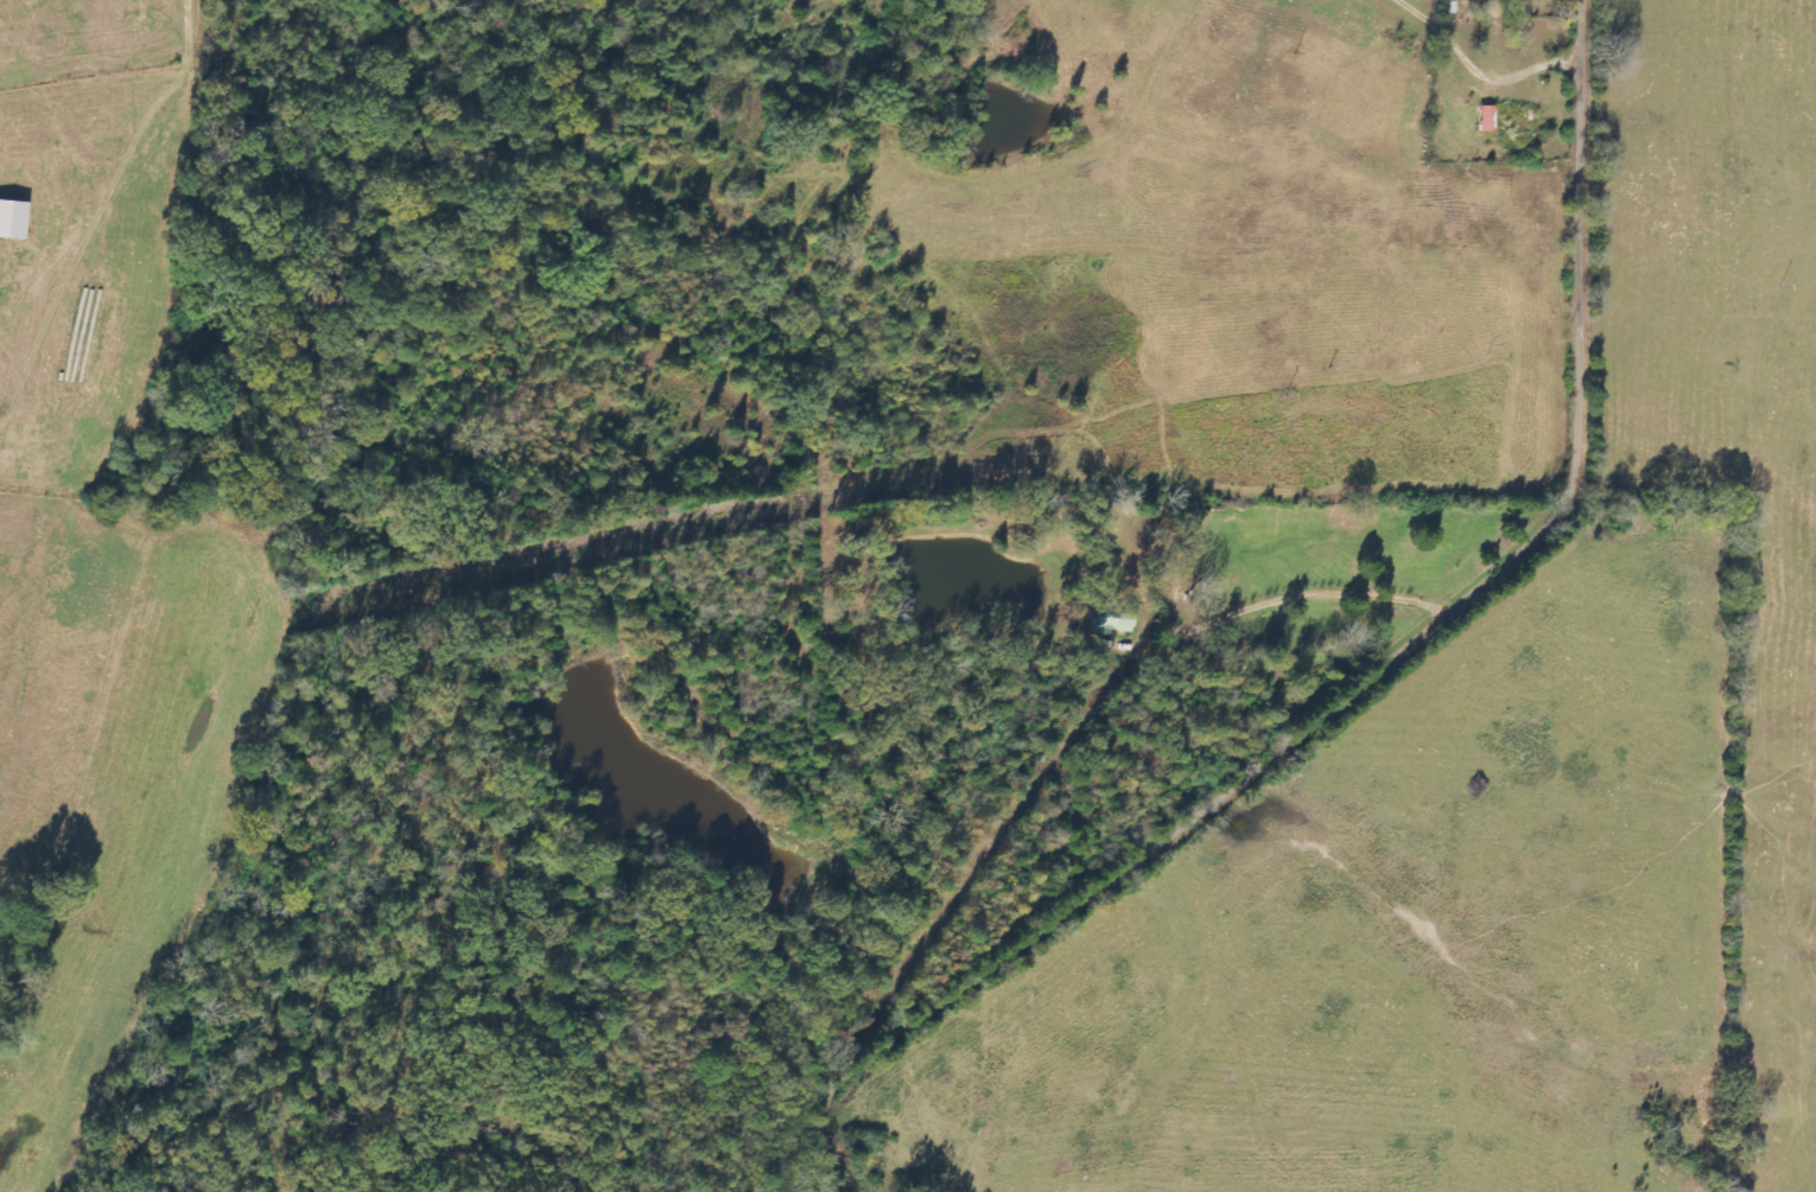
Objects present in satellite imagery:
building: (1485, 119)
building: (11, 219)
building: (1111, 624)
road: (1372, 681)

